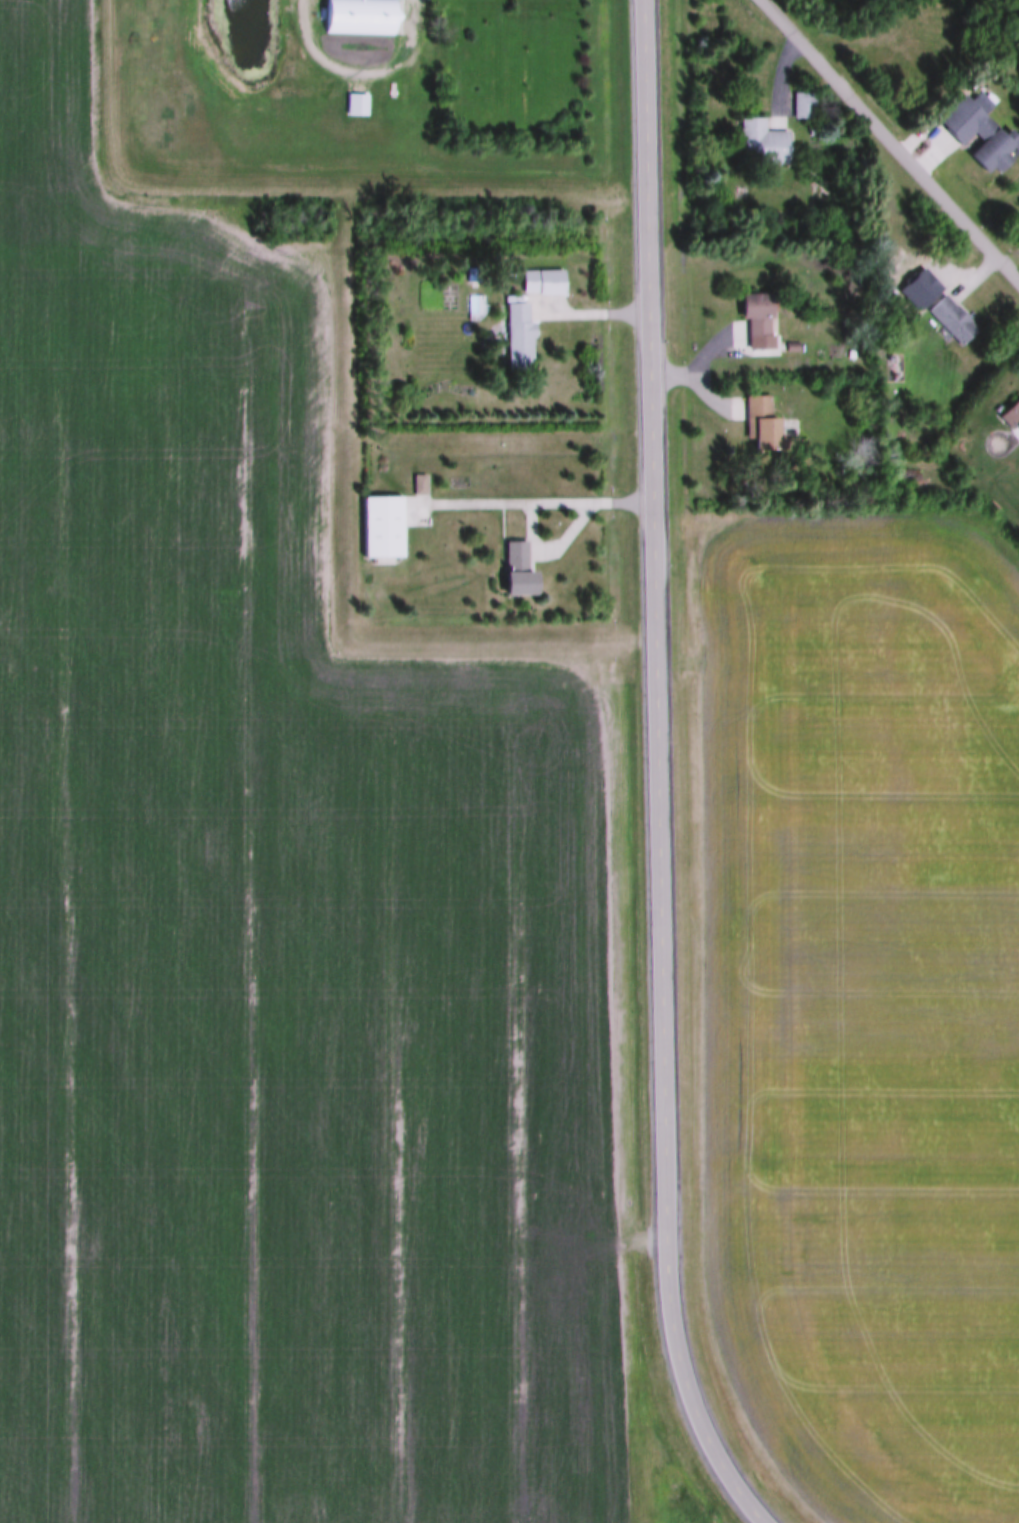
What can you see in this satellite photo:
building: (357, 16)
building: (904, 46)
building: (984, 99)
building: (802, 103)
building: (981, 133)
road: (888, 138)
building: (761, 139)
building: (471, 273)
building: (541, 281)
road: (591, 315)
building: (755, 318)
building: (950, 318)
street lamp: (704, 327)
street lamp: (553, 332)
building: (517, 334)
building: (789, 362)
building: (1011, 412)
building: (761, 421)
street lamp: (718, 428)
building: (417, 483)
road: (542, 504)
building: (379, 524)
building: (516, 568)
road: (659, 774)
crop: (268, 930)
crop: (863, 1003)

